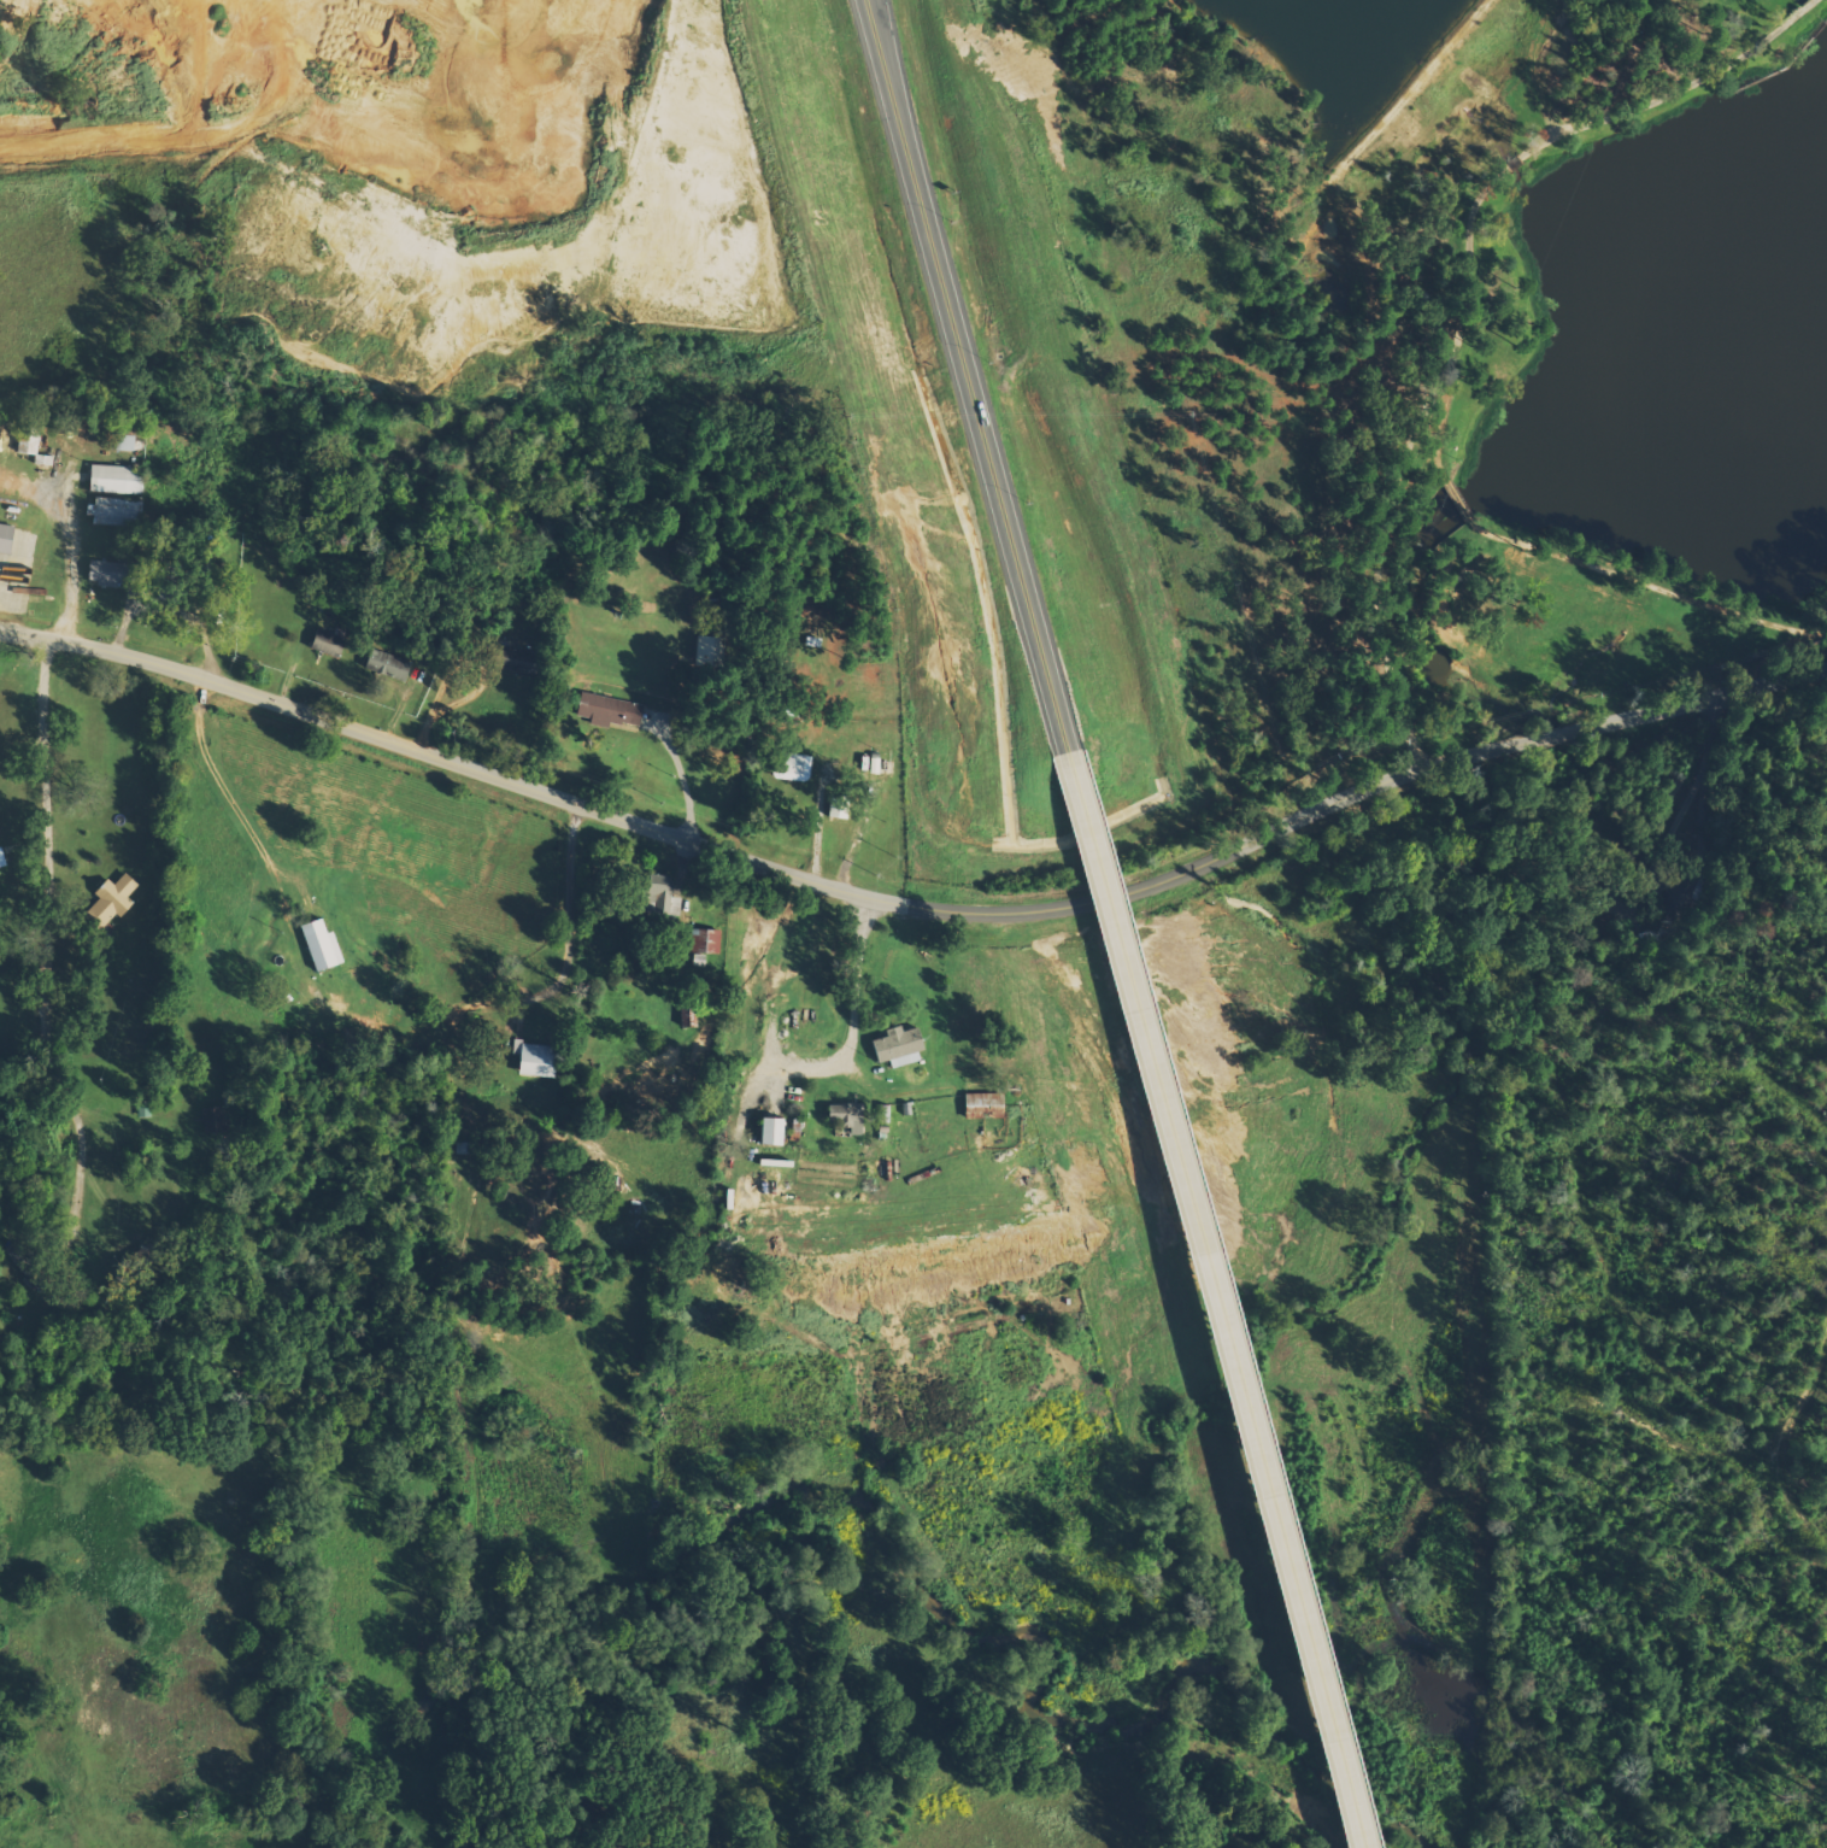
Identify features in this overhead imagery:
road: (886, 84)
road: (894, 84)
road: (988, 462)
building: (113, 480)
building: (113, 511)
building: (5, 539)
building: (99, 574)
building: (327, 641)
building: (510, 658)
building: (387, 664)
building: (610, 710)
road: (51, 767)
building: (789, 767)
building: (0, 862)
building: (106, 903)
road: (912, 910)
building: (318, 945)
building: (703, 945)
road: (852, 1011)
building: (895, 1046)
building: (533, 1060)
building: (979, 1099)
building: (844, 1116)
building: (213, 1119)
building: (769, 1131)
road: (1216, 1301)

